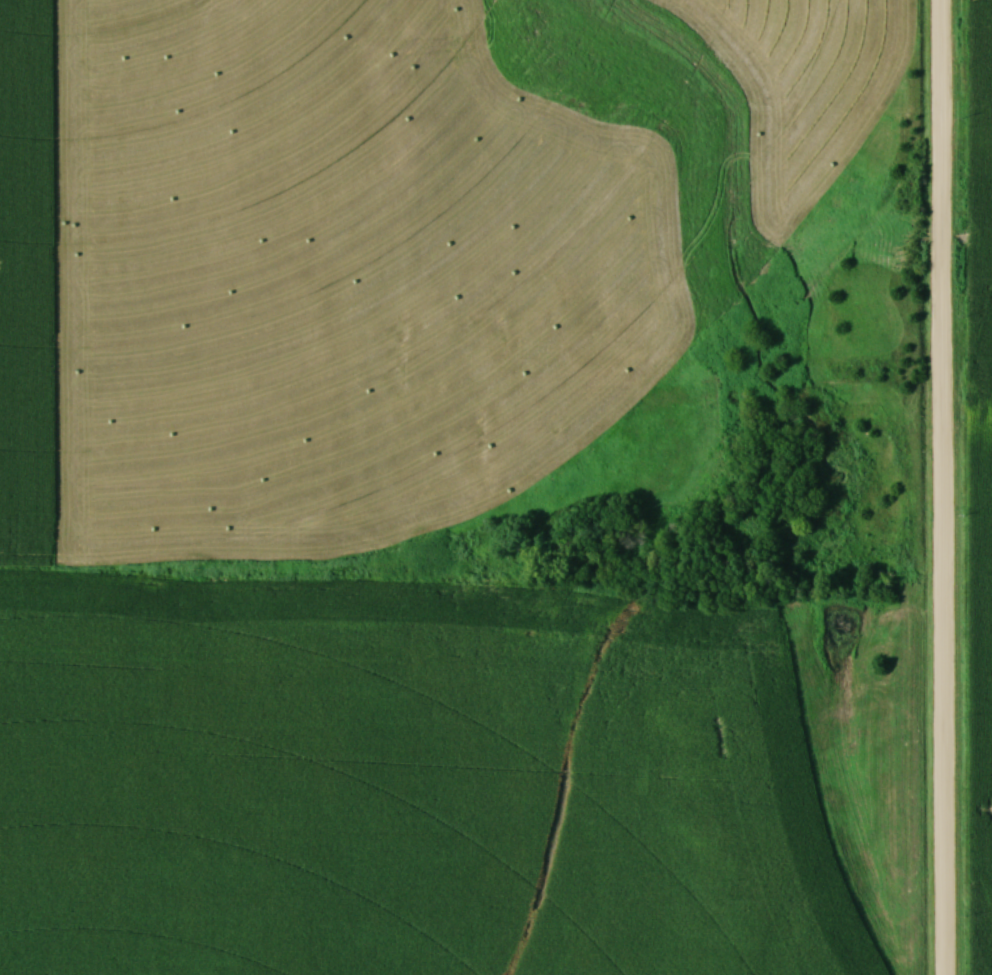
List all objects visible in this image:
road: (941, 487)

